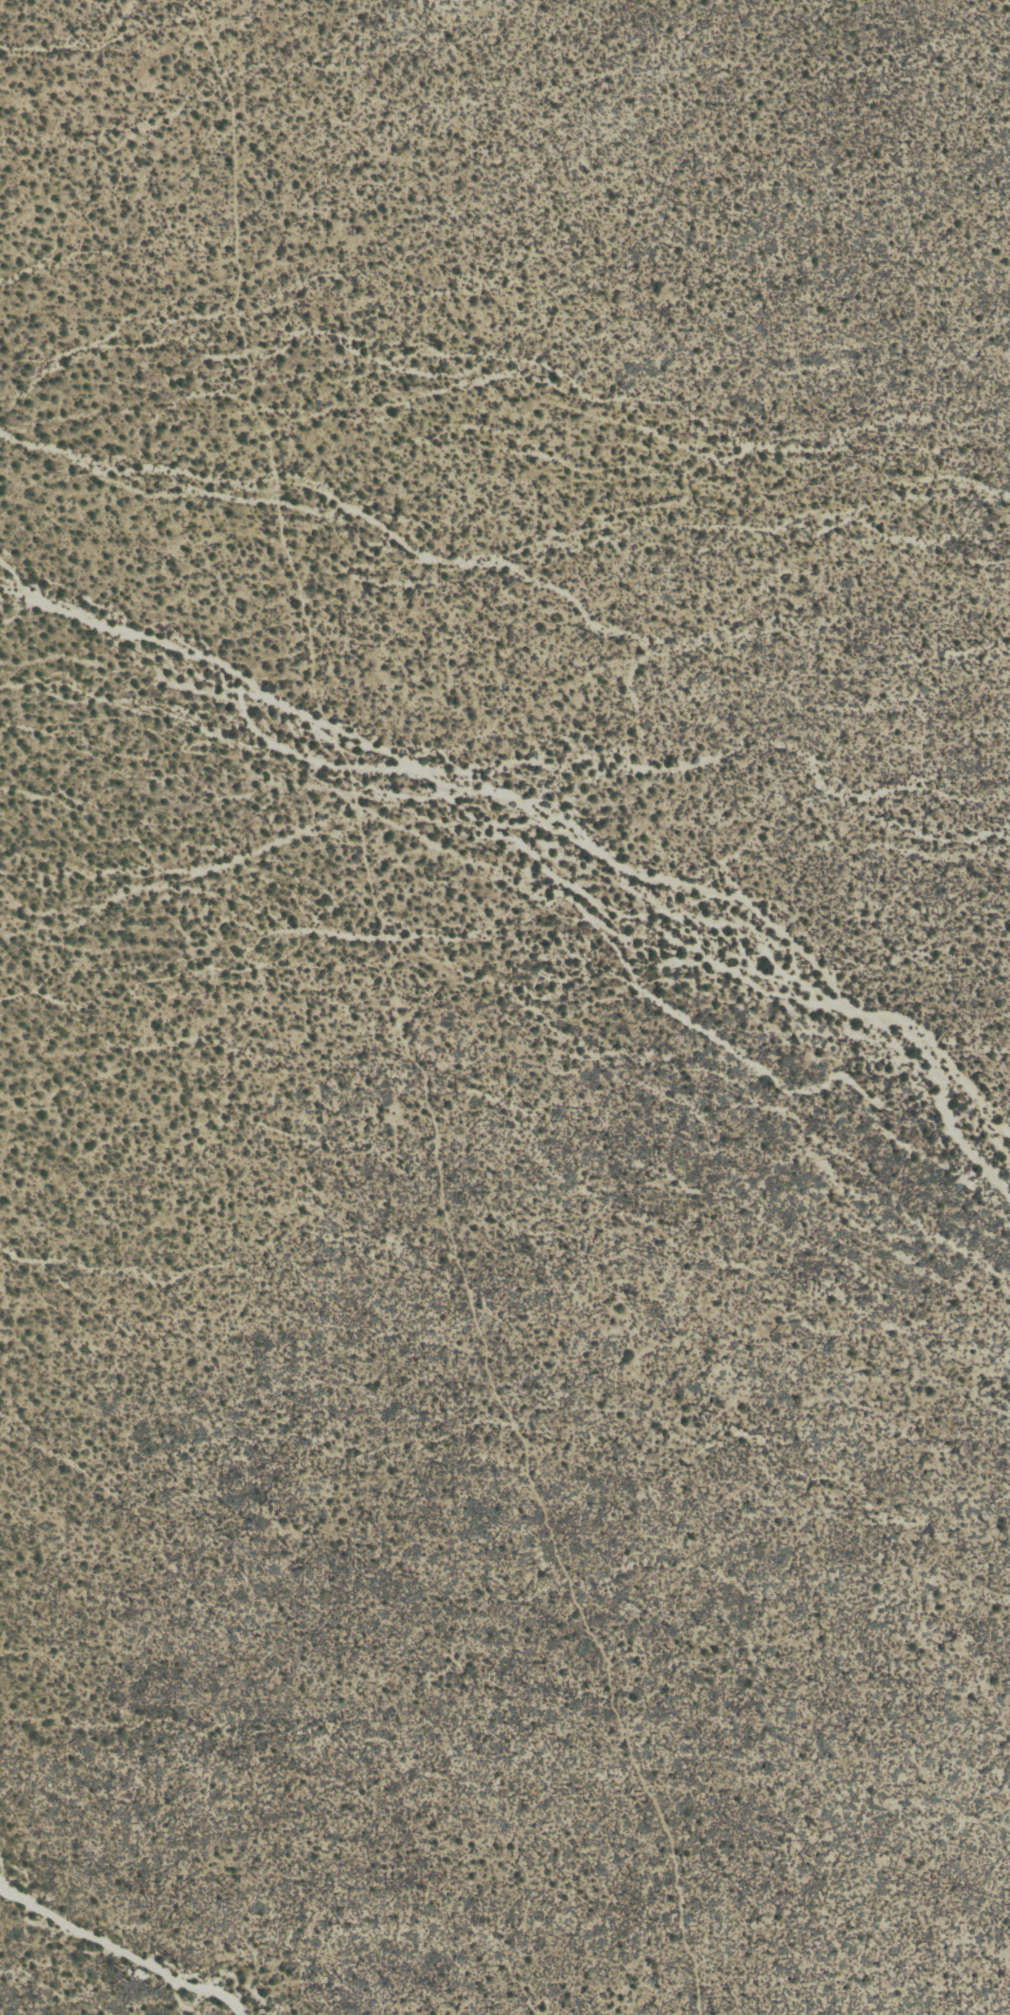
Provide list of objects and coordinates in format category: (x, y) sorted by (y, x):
road: (395, 1019)
road: (120, 1952)

